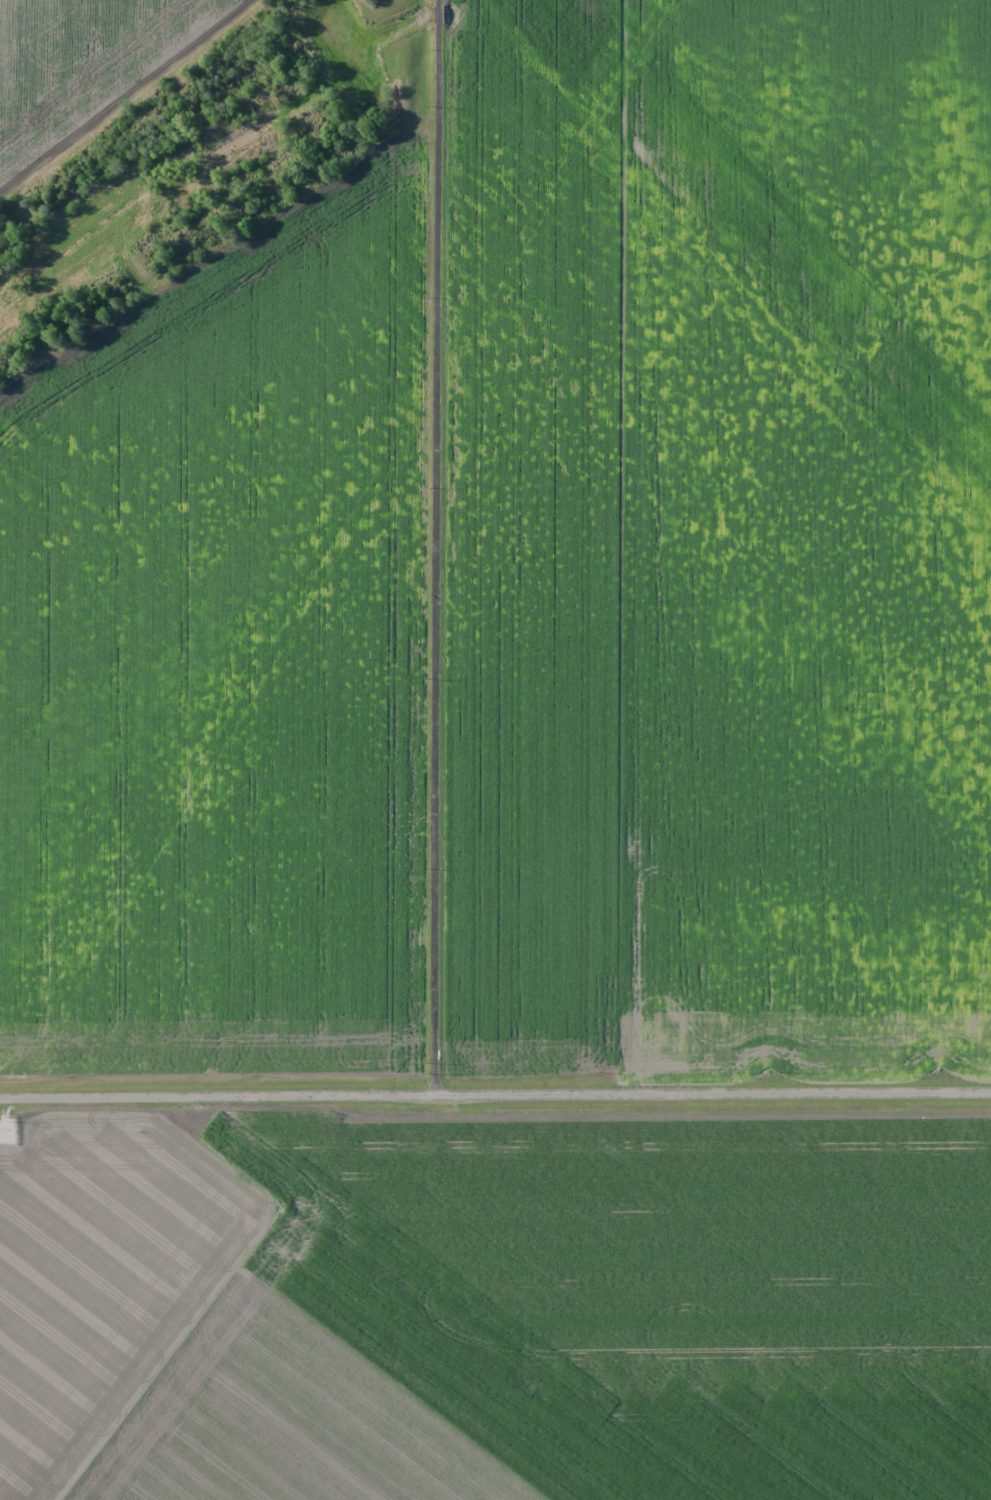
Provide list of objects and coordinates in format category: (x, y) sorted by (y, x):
road: (439, 541)
road: (495, 1082)

